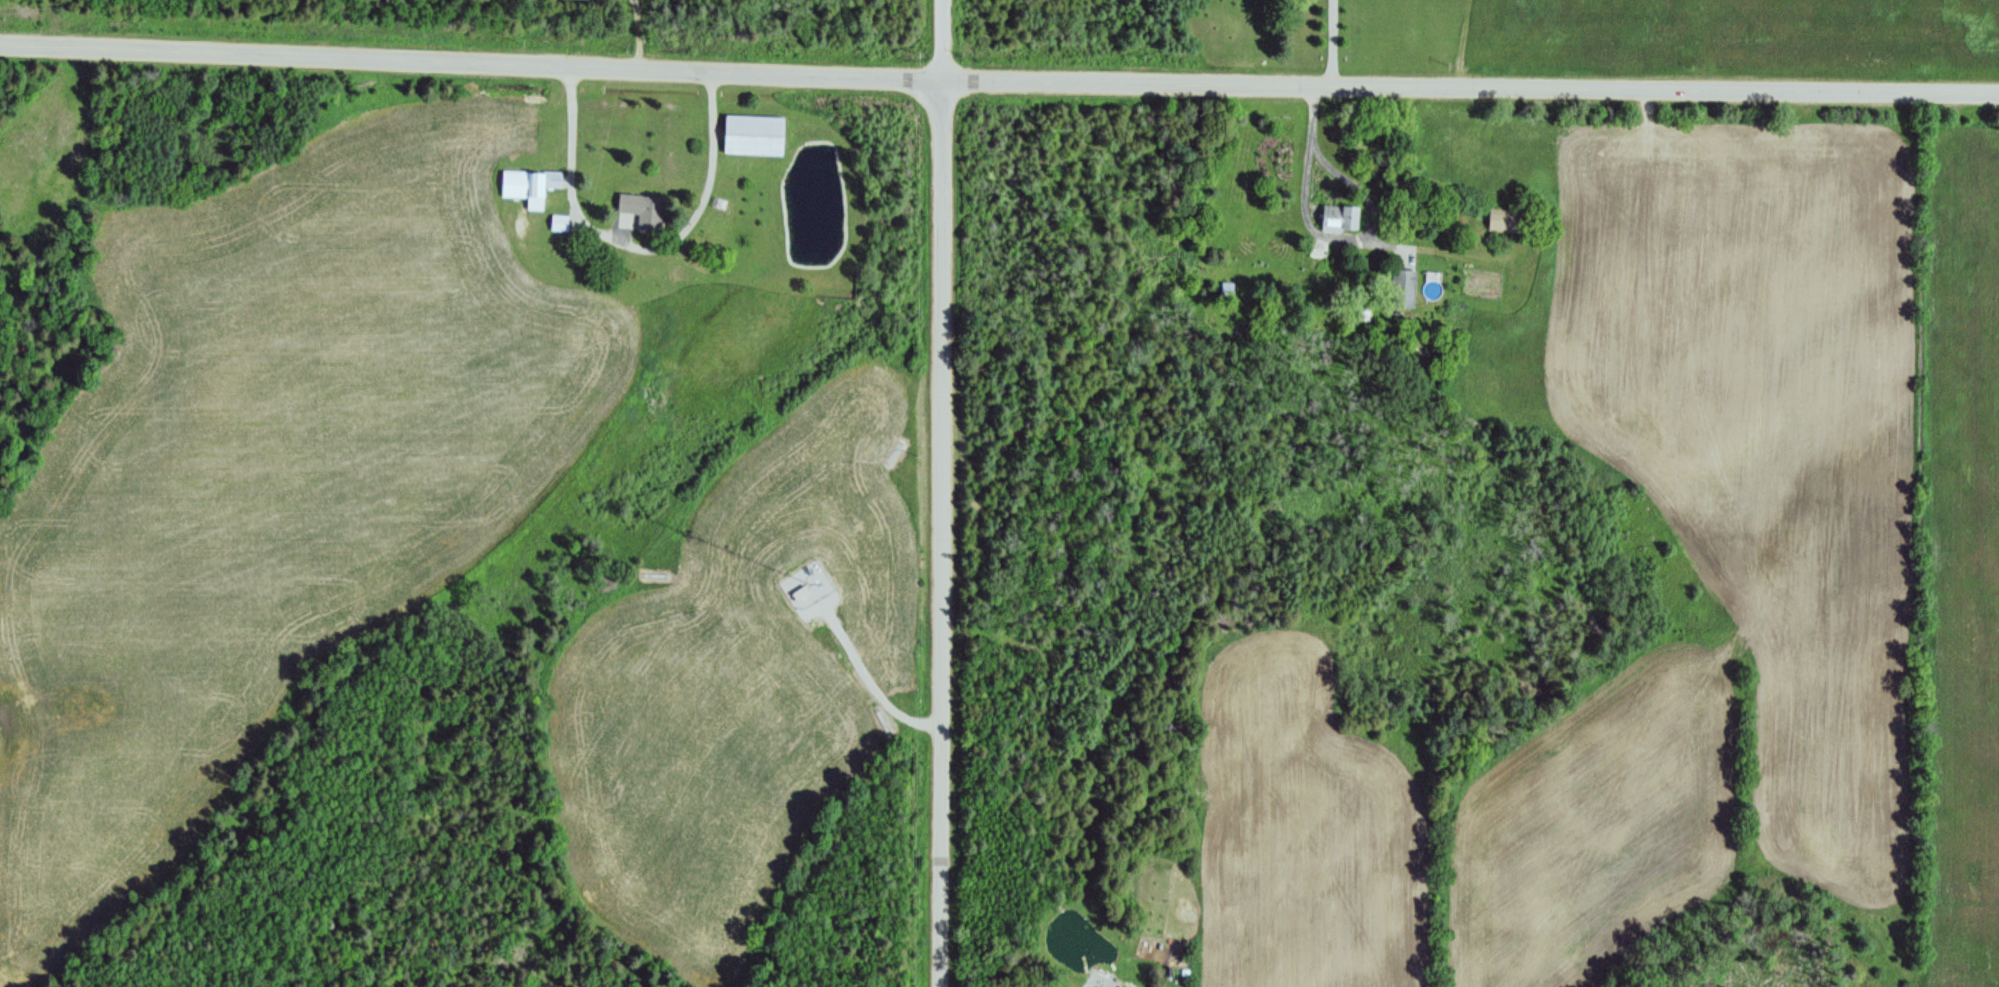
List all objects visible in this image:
road: (999, 81)
building: (751, 131)
building: (529, 187)
building: (642, 212)
building: (1340, 218)
building: (1502, 223)
road: (633, 249)
building: (1403, 288)
building: (1228, 291)
road: (942, 493)
building: (797, 589)
road: (866, 682)

